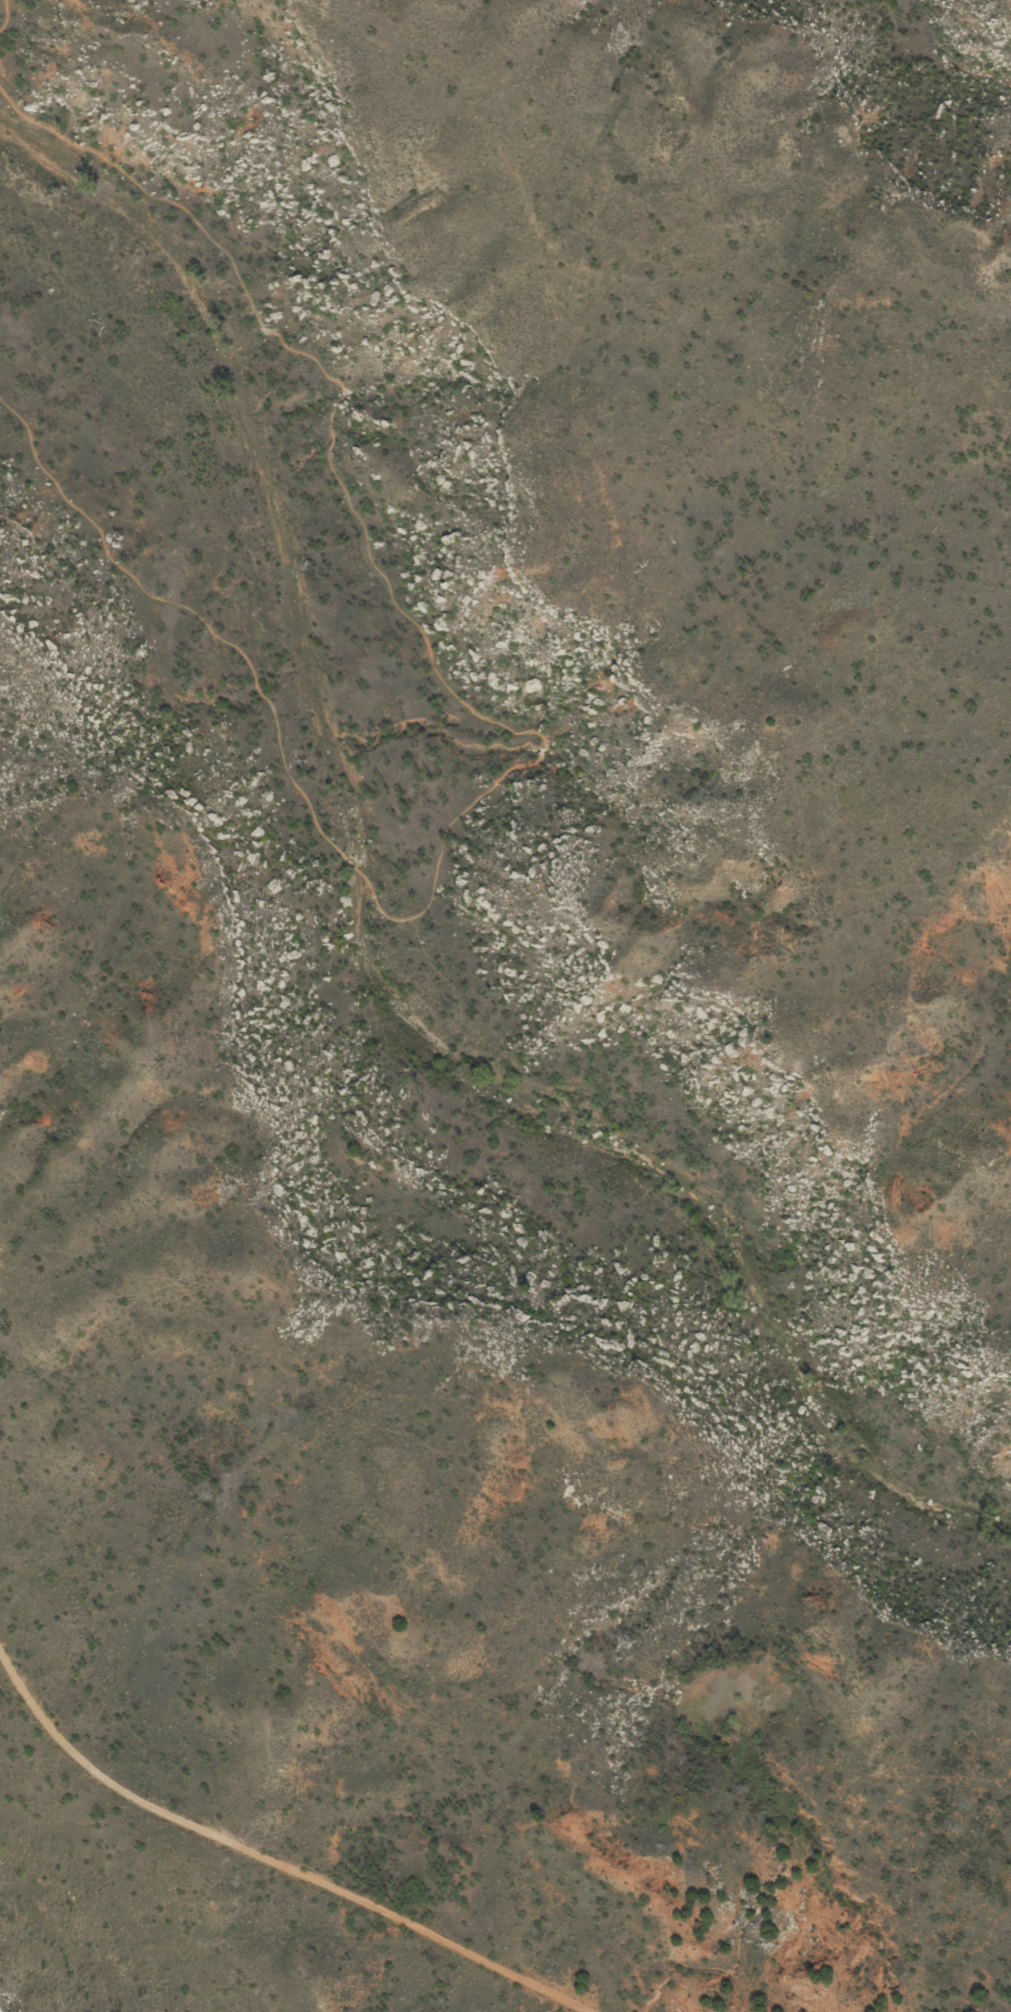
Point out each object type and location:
road: (245, 1886)

